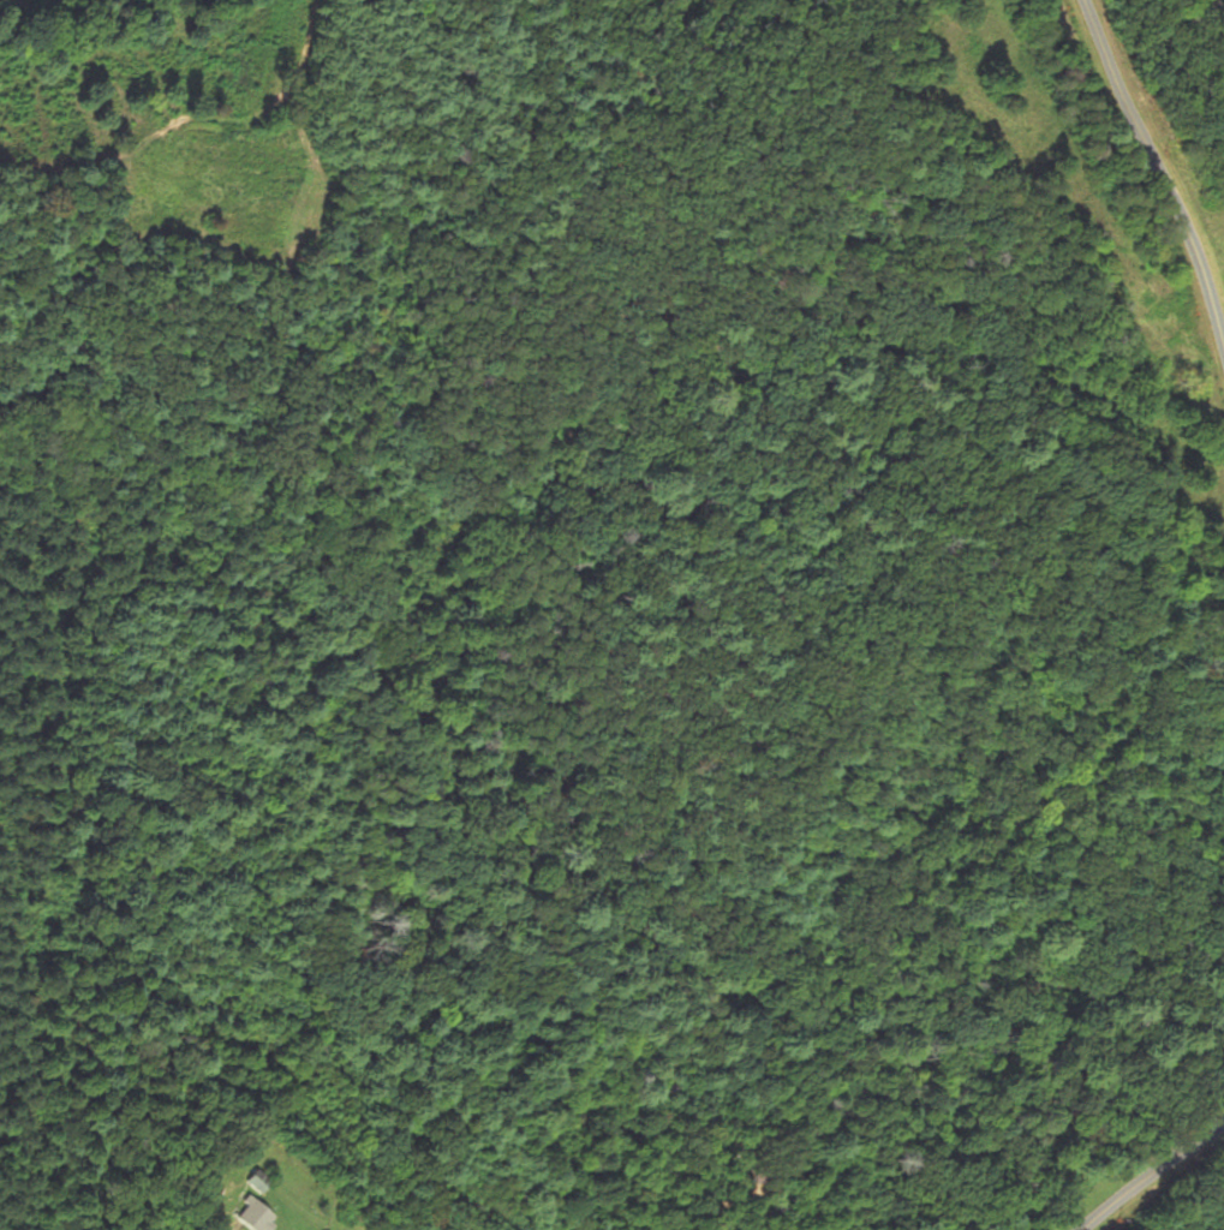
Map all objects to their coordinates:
road: (1162, 171)
road: (1151, 1172)
building: (262, 1182)

